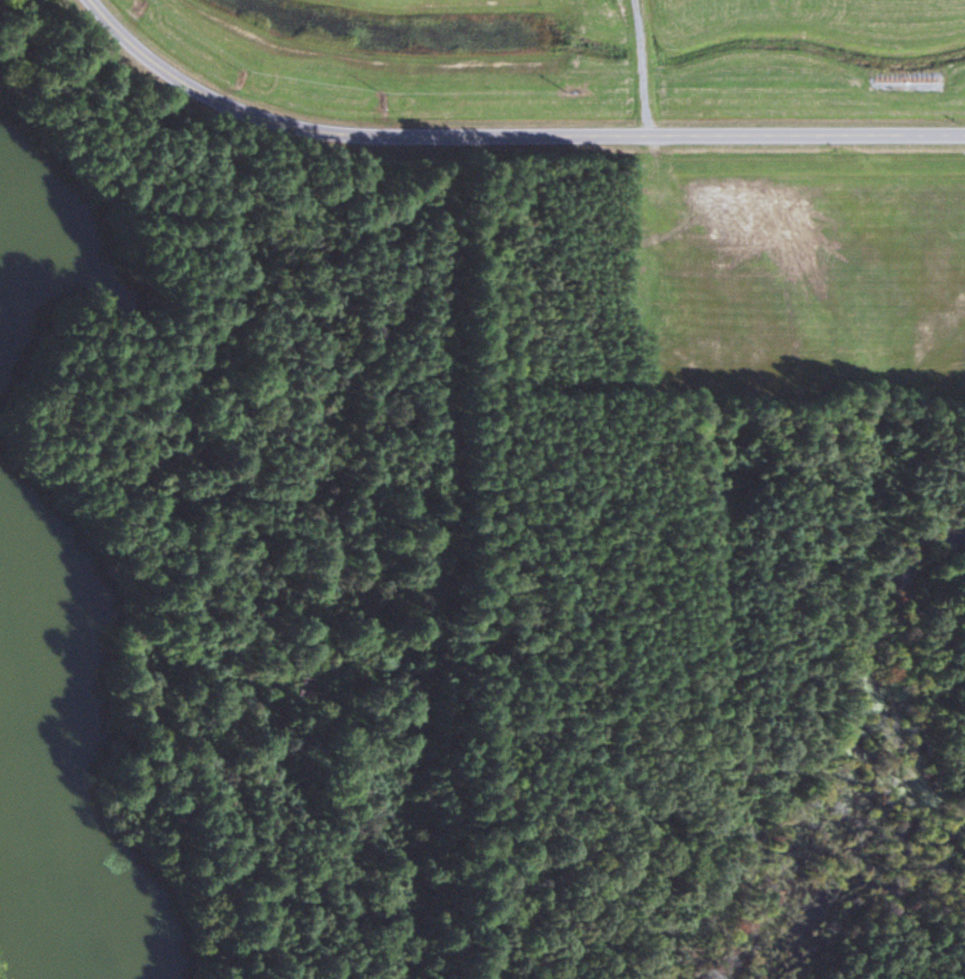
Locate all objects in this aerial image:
airport: (584, 48)
road: (641, 67)
road: (505, 135)

